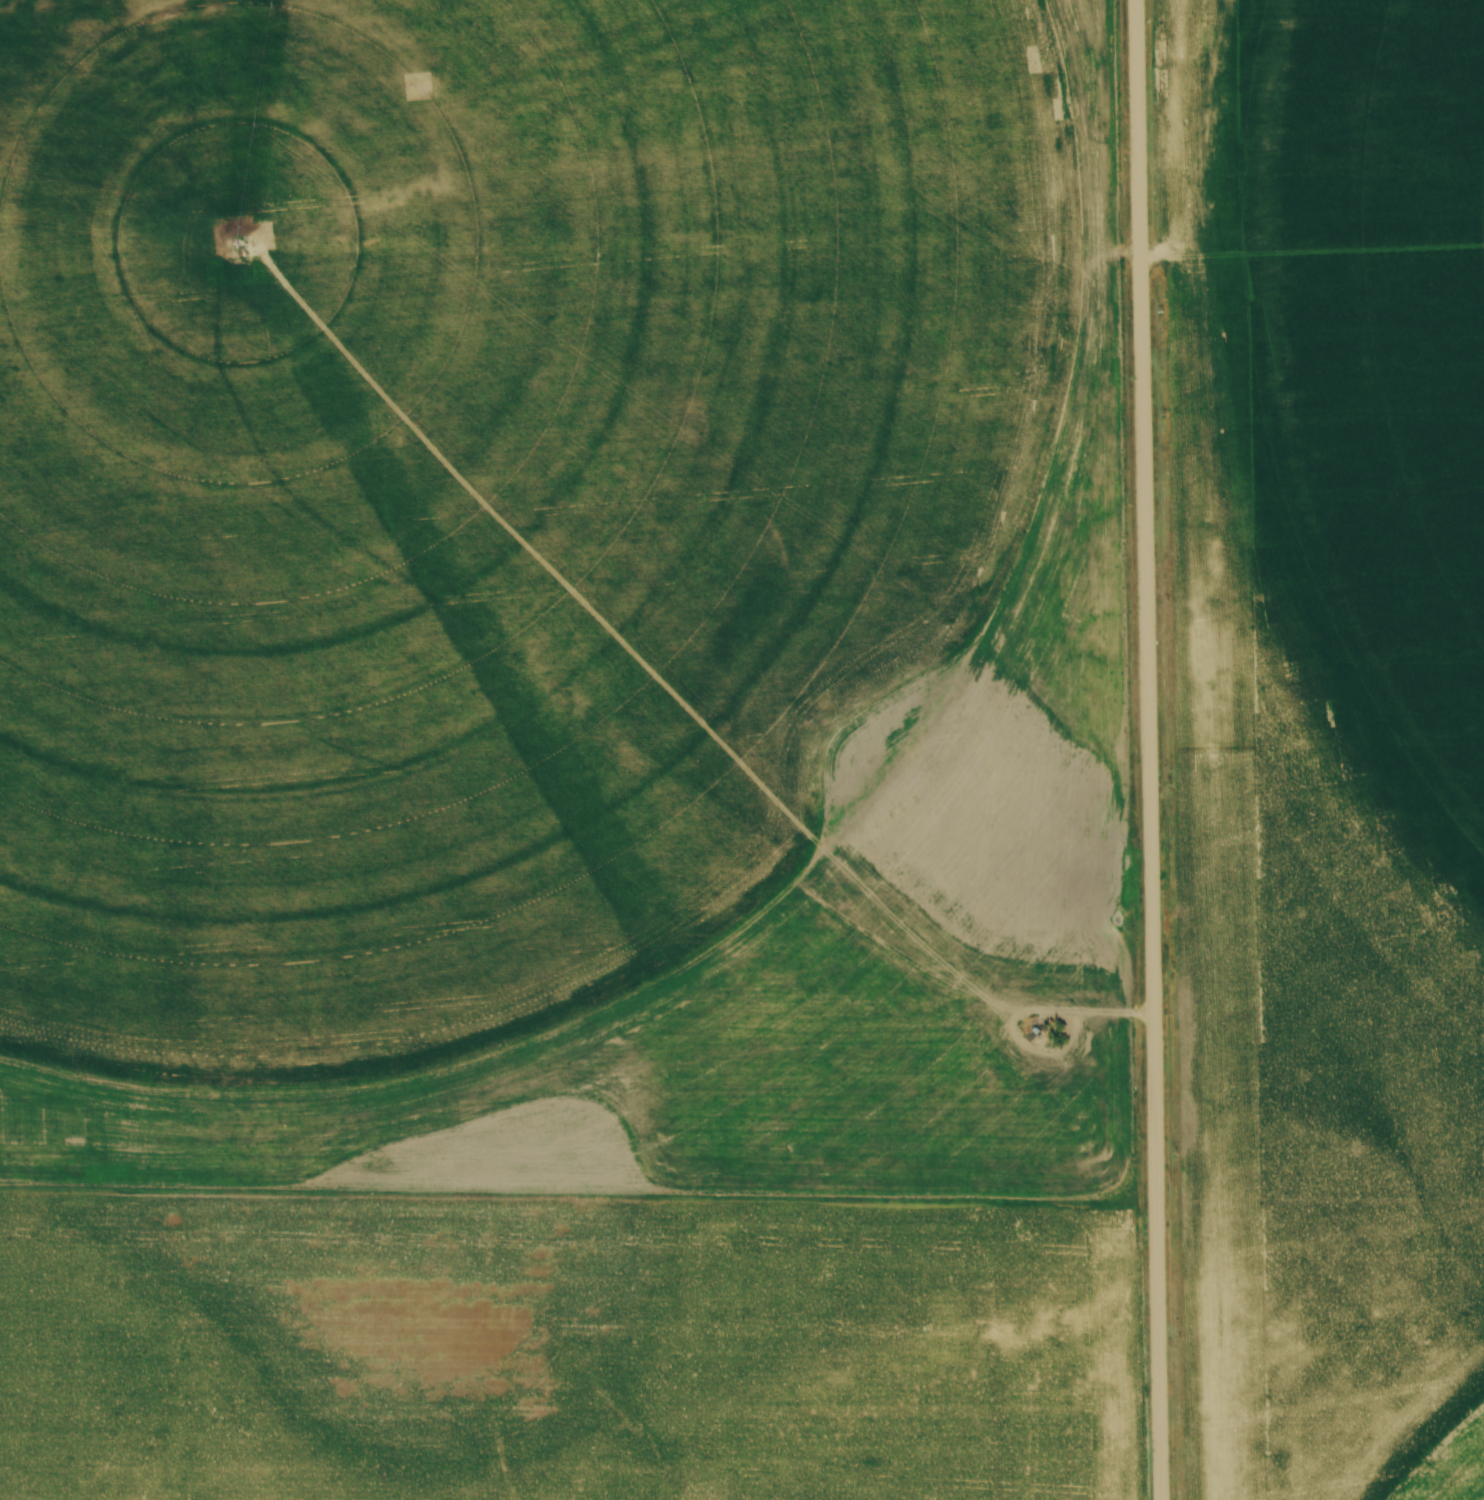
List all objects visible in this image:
crop: (1326, 742)
road: (1147, 749)
crop: (559, 751)

